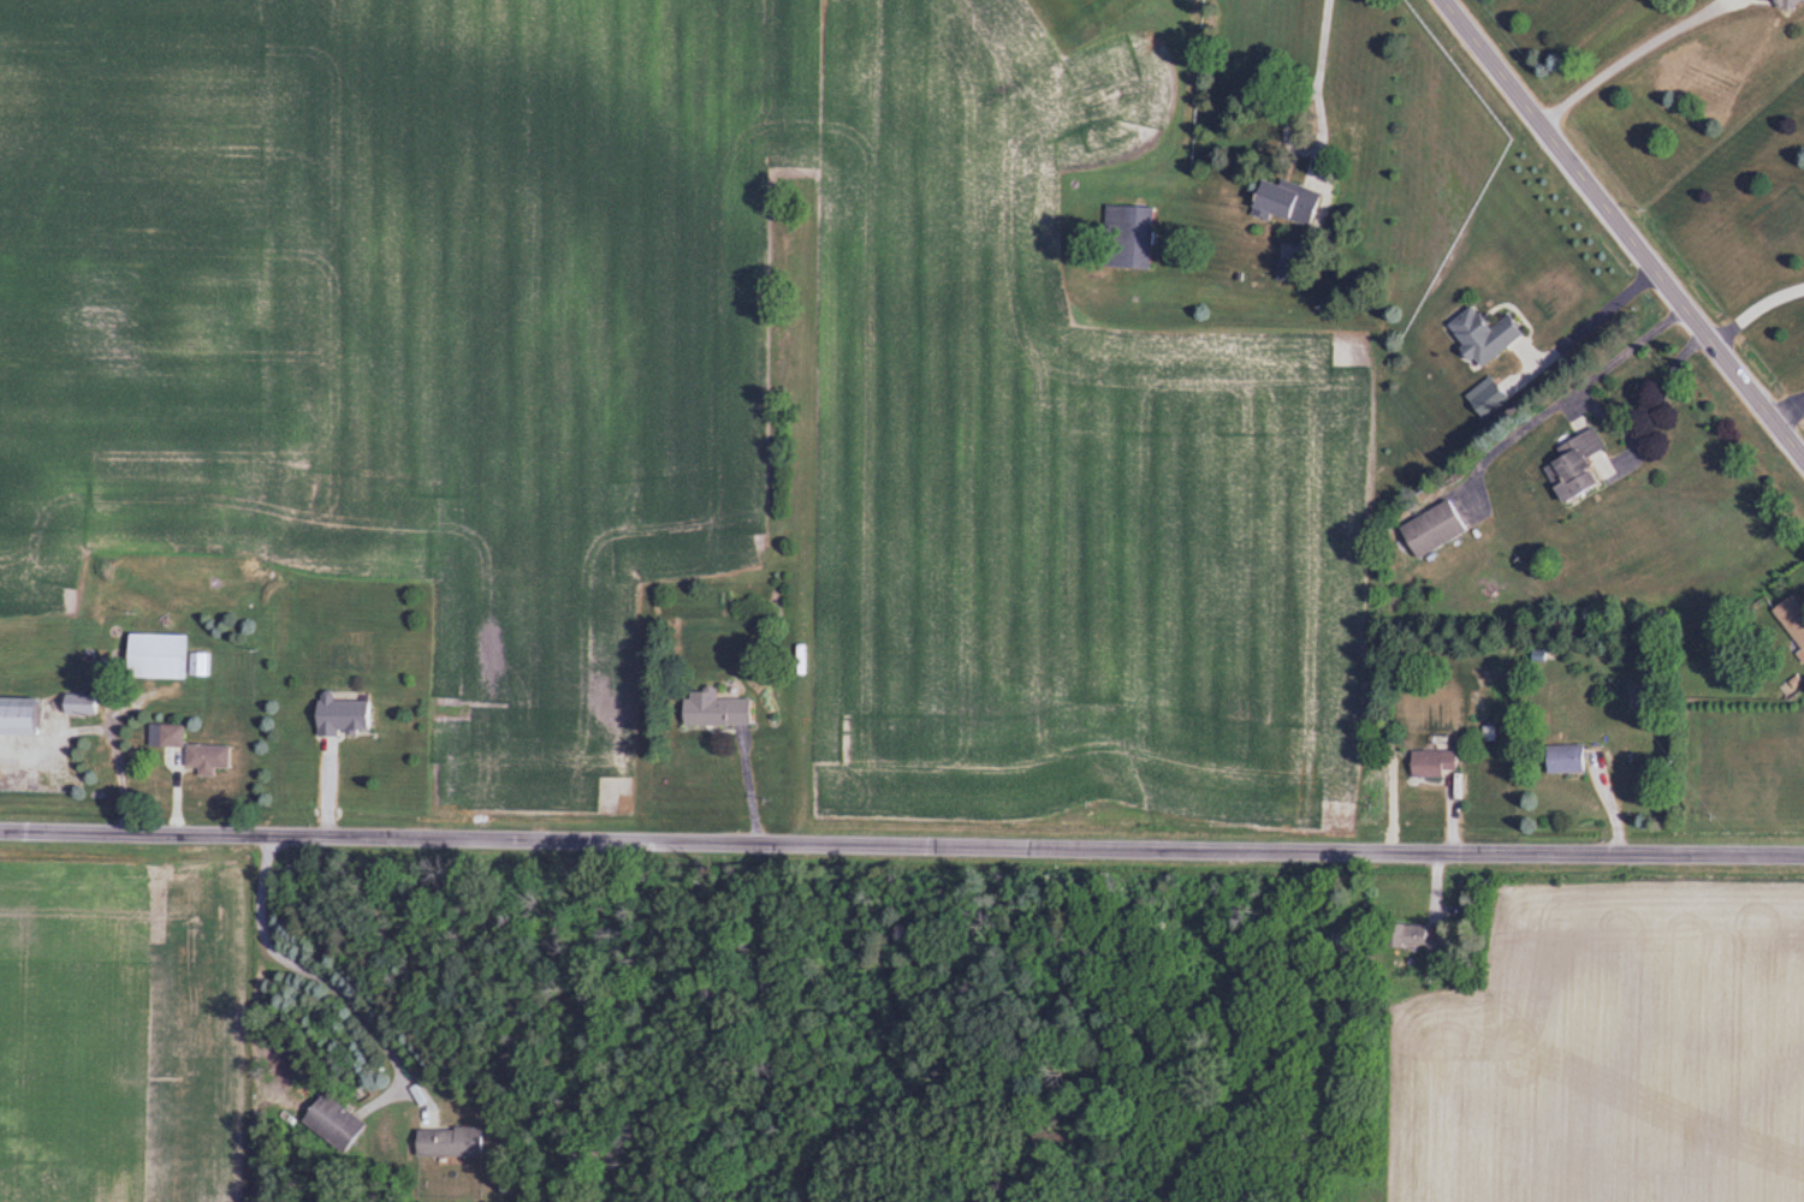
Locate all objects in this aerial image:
building: (1775, 5)
road: (1322, 41)
road: (1627, 54)
road: (1299, 147)
building: (1280, 202)
road: (1622, 230)
building: (1124, 237)
road: (1753, 308)
road: (1594, 319)
building: (1479, 335)
road: (1788, 409)
road: (1602, 416)
building: (1571, 464)
building: (1430, 529)
building: (1790, 623)
building: (154, 657)
building: (78, 706)
building: (710, 710)
building: (339, 716)
building: (18, 718)
building: (164, 736)
building: (1562, 758)
building: (203, 760)
building: (1428, 763)
road: (901, 845)
building: (1410, 939)
road: (320, 977)
building: (331, 1121)
building: (444, 1141)

